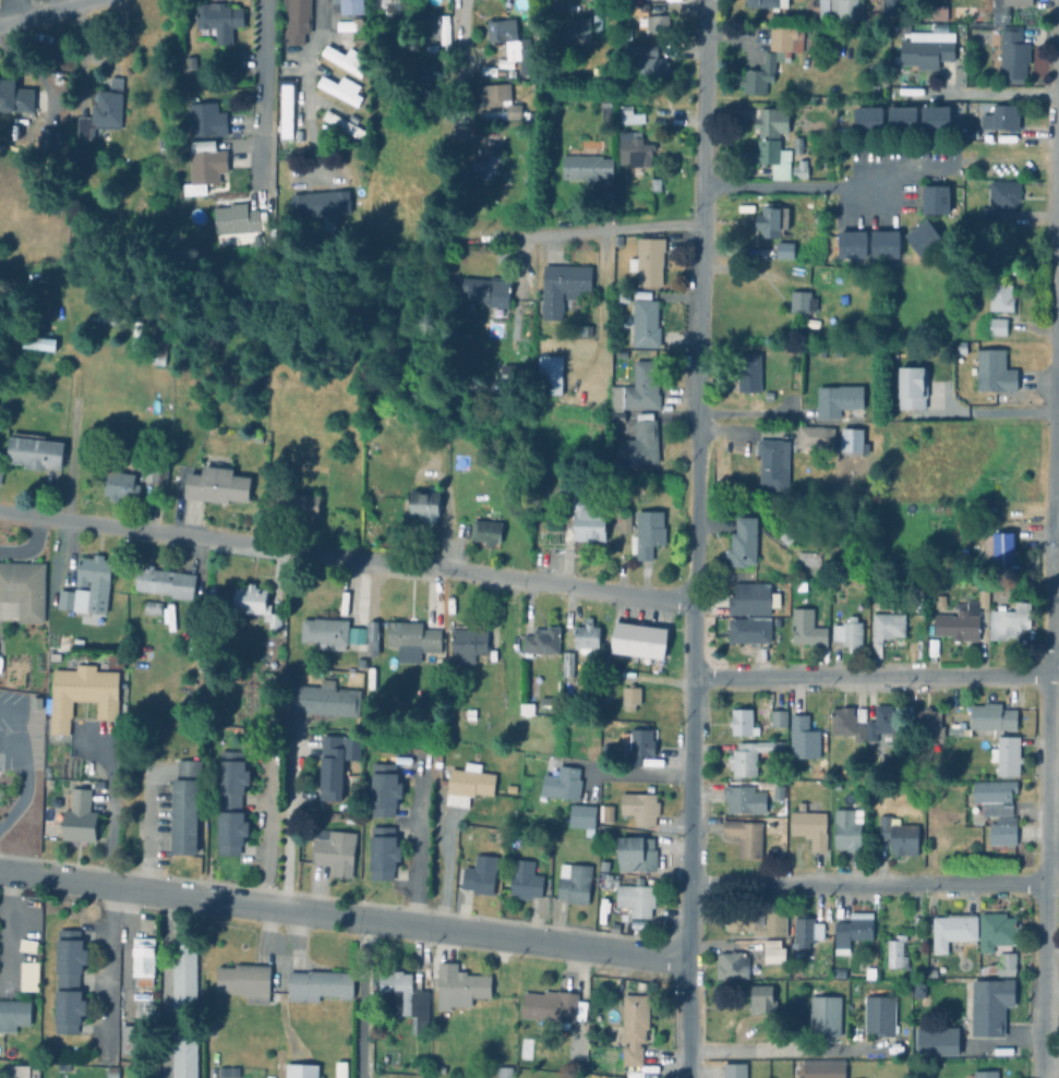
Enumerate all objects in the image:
building: (876, 2)
road: (59, 3)
road: (555, 3)
building: (766, 3)
building: (348, 5)
building: (390, 8)
building: (1004, 9)
building: (822, 10)
building: (846, 10)
road: (43, 12)
road: (461, 19)
building: (217, 20)
building: (294, 20)
building: (595, 22)
building: (649, 22)
building: (342, 25)
building: (430, 26)
building: (939, 27)
building: (827, 29)
building: (576, 31)
building: (510, 46)
road: (305, 52)
building: (924, 52)
building: (1009, 54)
building: (771, 58)
building: (344, 60)
building: (638, 61)
building: (186, 62)
building: (490, 71)
building: (593, 73)
road: (1058, 77)
building: (339, 89)
road: (996, 93)
building: (14, 94)
road: (260, 98)
building: (816, 99)
building: (493, 100)
building: (107, 106)
building: (285, 110)
building: (605, 110)
building: (628, 114)
building: (203, 116)
building: (1001, 118)
building: (904, 119)
building: (937, 119)
building: (869, 120)
building: (340, 124)
building: (489, 129)
building: (547, 130)
building: (771, 135)
building: (46, 138)
building: (160, 143)
building: (796, 145)
building: (633, 149)
building: (205, 162)
building: (803, 162)
building: (486, 165)
building: (586, 167)
building: (799, 171)
building: (780, 172)
building: (654, 183)
road: (828, 187)
building: (936, 198)
building: (999, 198)
building: (320, 202)
building: (818, 217)
building: (234, 218)
building: (771, 219)
road: (615, 226)
building: (924, 237)
building: (853, 243)
building: (886, 243)
building: (784, 250)
building: (761, 252)
building: (647, 261)
building: (609, 276)
building: (562, 287)
building: (486, 293)
building: (621, 295)
building: (999, 296)
building: (41, 301)
building: (802, 302)
building: (108, 316)
building: (645, 319)
building: (996, 326)
building: (37, 341)
building: (961, 348)
building: (157, 352)
building: (748, 372)
building: (994, 372)
building: (508, 373)
building: (549, 374)
building: (910, 387)
building: (637, 389)
building: (839, 400)
road: (1003, 411)
building: (616, 416)
building: (815, 437)
building: (851, 441)
building: (544, 443)
building: (638, 443)
building: (32, 450)
building: (771, 463)
building: (0, 468)
building: (151, 473)
building: (275, 483)
building: (119, 485)
building: (215, 485)
building: (302, 505)
building: (423, 505)
building: (589, 521)
building: (626, 524)
building: (488, 533)
building: (651, 534)
road: (694, 538)
road: (1050, 538)
building: (746, 544)
building: (1003, 553)
road: (346, 555)
building: (164, 582)
building: (52, 583)
building: (973, 584)
building: (86, 590)
building: (21, 591)
building: (754, 601)
building: (254, 603)
building: (942, 603)
building: (151, 607)
building: (965, 622)
building: (1012, 622)
building: (807, 629)
building: (751, 631)
building: (887, 631)
building: (325, 632)
building: (356, 634)
building: (850, 634)
building: (412, 637)
building: (371, 638)
building: (589, 639)
building: (641, 641)
building: (76, 643)
building: (544, 643)
building: (469, 645)
building: (935, 650)
building: (569, 668)
road: (876, 676)
building: (80, 693)
building: (633, 699)
building: (324, 700)
building: (34, 702)
building: (549, 707)
building: (781, 719)
building: (952, 722)
building: (989, 723)
building: (746, 725)
building: (850, 726)
building: (932, 726)
building: (886, 727)
building: (806, 740)
building: (641, 748)
building: (753, 759)
building: (1009, 759)
building: (334, 763)
road: (23, 764)
road: (640, 772)
building: (564, 785)
building: (470, 786)
building: (383, 789)
building: (780, 795)
building: (746, 801)
building: (230, 802)
building: (183, 807)
building: (642, 809)
road: (109, 810)
building: (1000, 810)
building: (610, 814)
building: (77, 816)
building: (351, 817)
building: (585, 819)
road: (289, 823)
building: (811, 828)
building: (849, 833)
road: (145, 835)
building: (900, 837)
building: (747, 839)
road: (416, 844)
building: (333, 850)
building: (383, 852)
building: (637, 855)
building: (482, 876)
building: (526, 882)
road: (873, 884)
building: (576, 885)
building: (637, 901)
road: (341, 919)
building: (759, 920)
building: (810, 931)
building: (854, 933)
building: (955, 933)
building: (1000, 934)
building: (775, 953)
road: (165, 954)
building: (899, 955)
building: (142, 960)
road: (106, 965)
building: (734, 967)
building: (1003, 967)
building: (874, 970)
building: (27, 976)
building: (183, 977)
building: (67, 980)
building: (243, 981)
building: (317, 984)
building: (460, 989)
road: (361, 1000)
building: (765, 1001)
building: (929, 1001)
building: (994, 1007)
building: (555, 1008)
building: (13, 1014)
building: (882, 1017)
building: (828, 1018)
building: (636, 1030)
building: (128, 1039)
building: (940, 1043)
road: (783, 1052)
building: (183, 1056)
building: (827, 1069)
building: (21, 1070)
building: (300, 1070)
building: (736, 1071)
building: (505, 1073)
building: (988, 1075)

